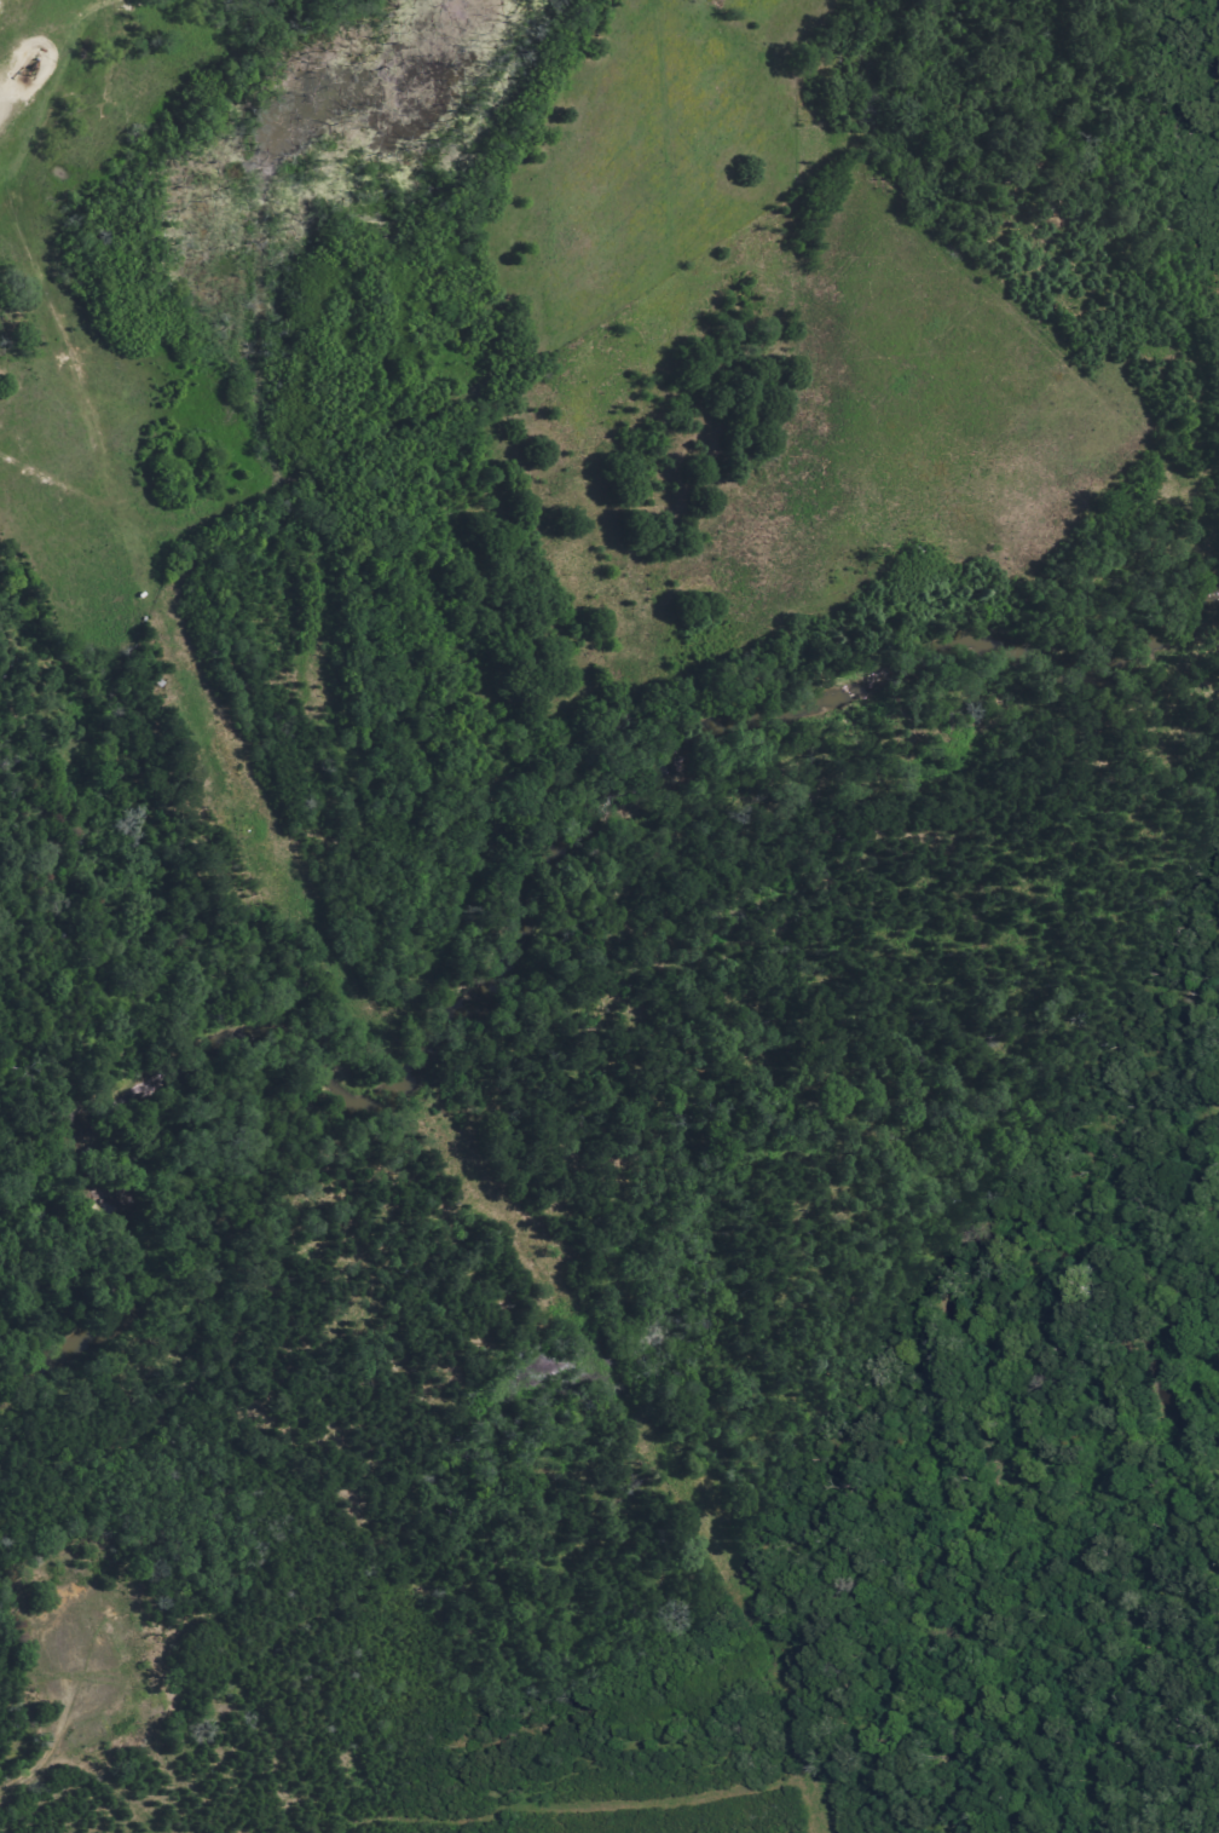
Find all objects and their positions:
petroleum well: (29, 67)

